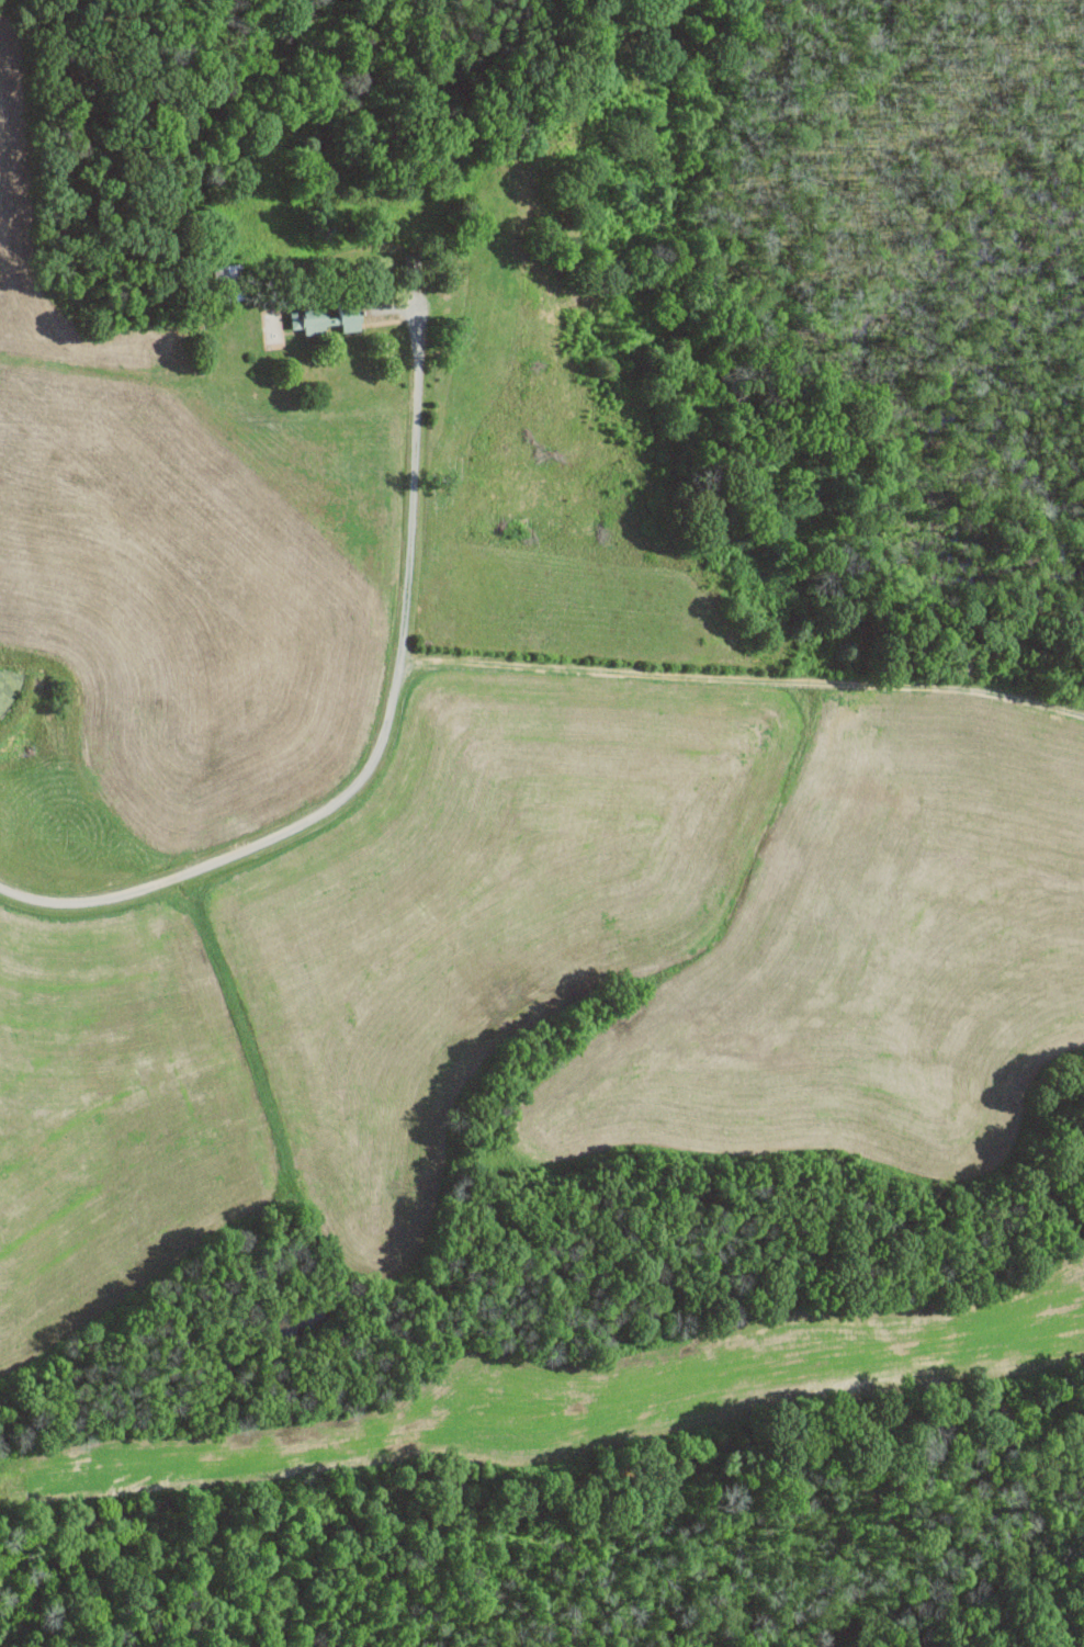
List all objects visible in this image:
building: (327, 319)
road: (772, 625)
road: (383, 744)

